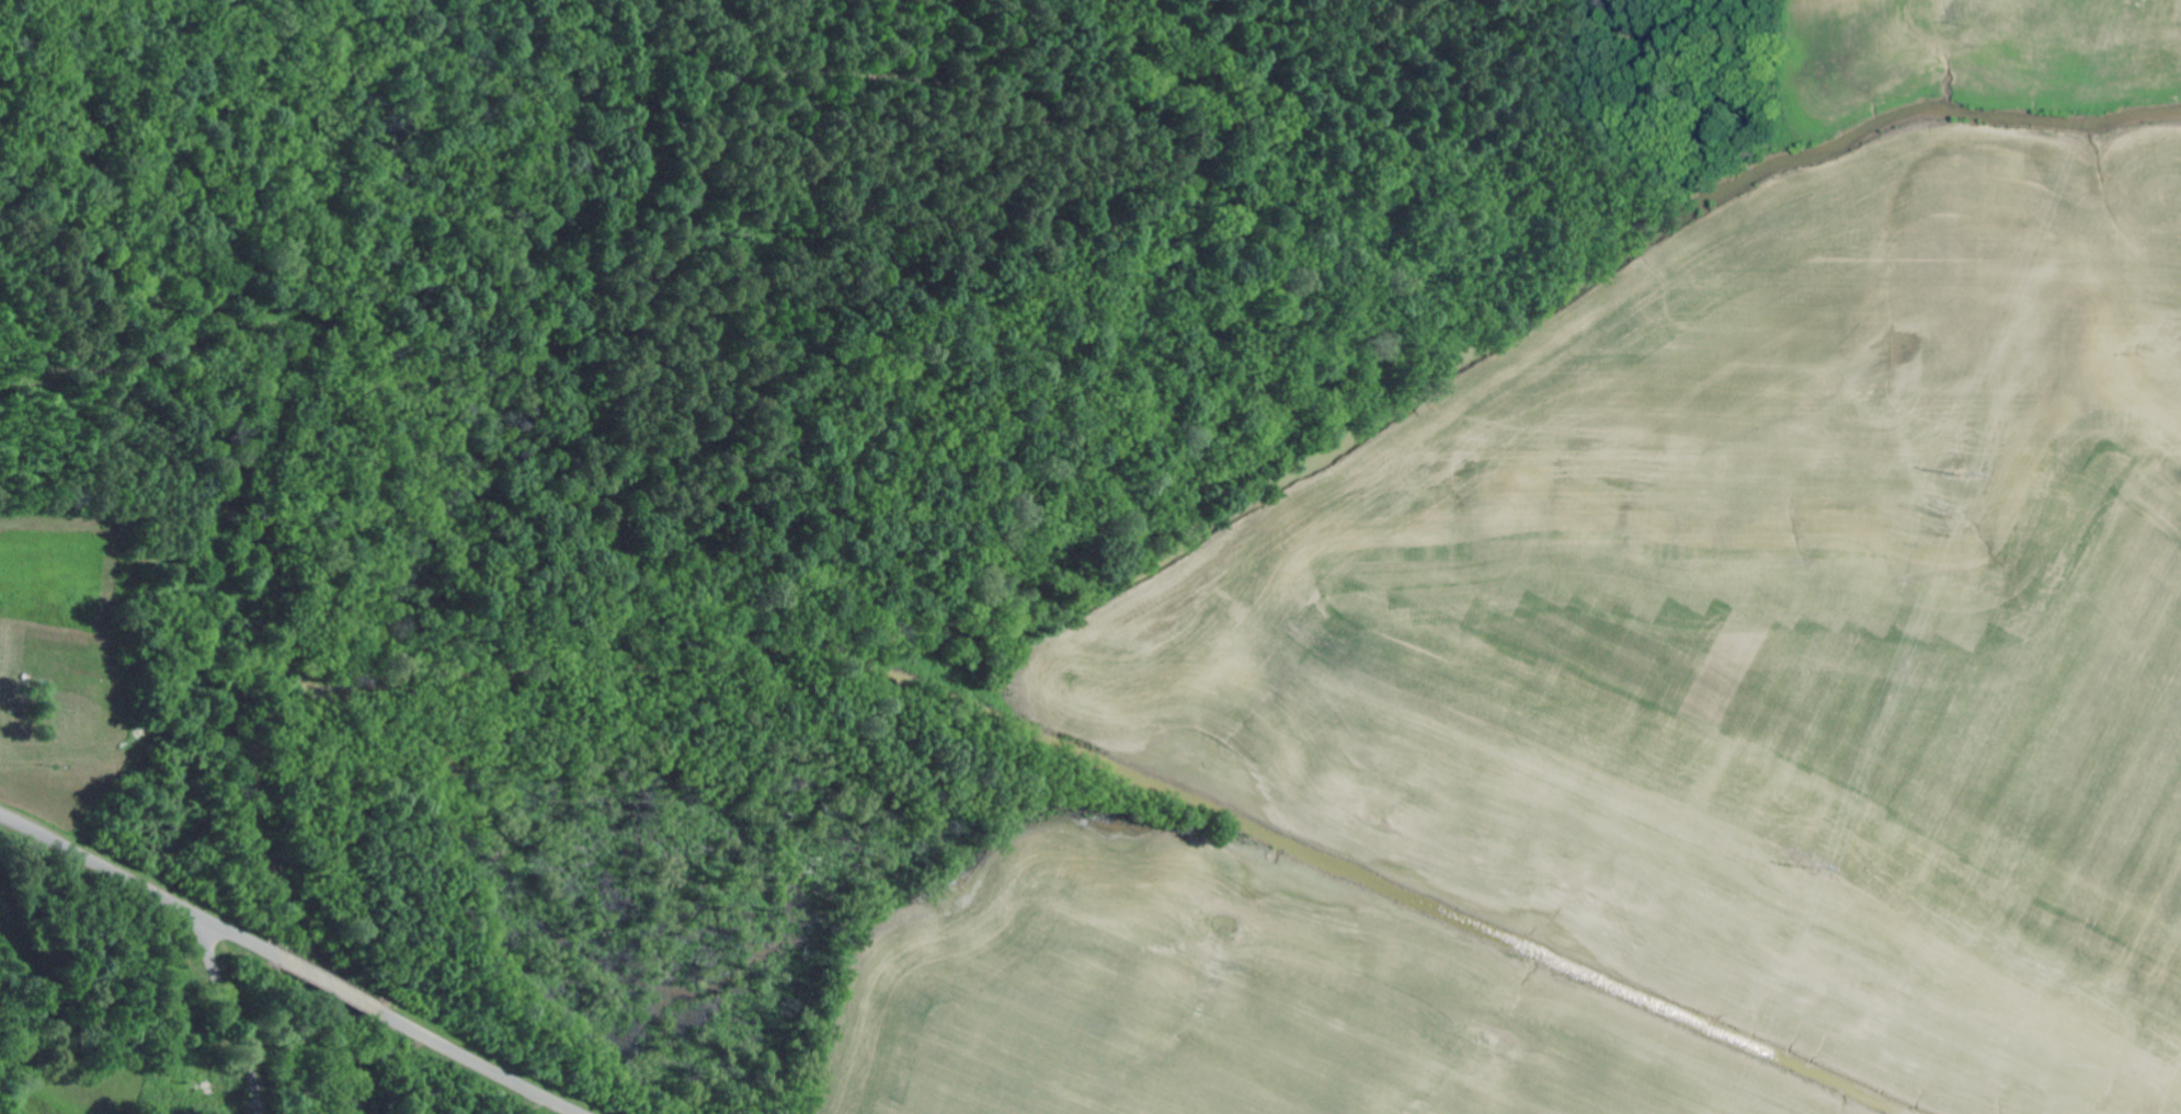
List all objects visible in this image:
road: (104, 865)
road: (243, 941)
road: (329, 987)
road: (233, 1018)
road: (477, 1065)

